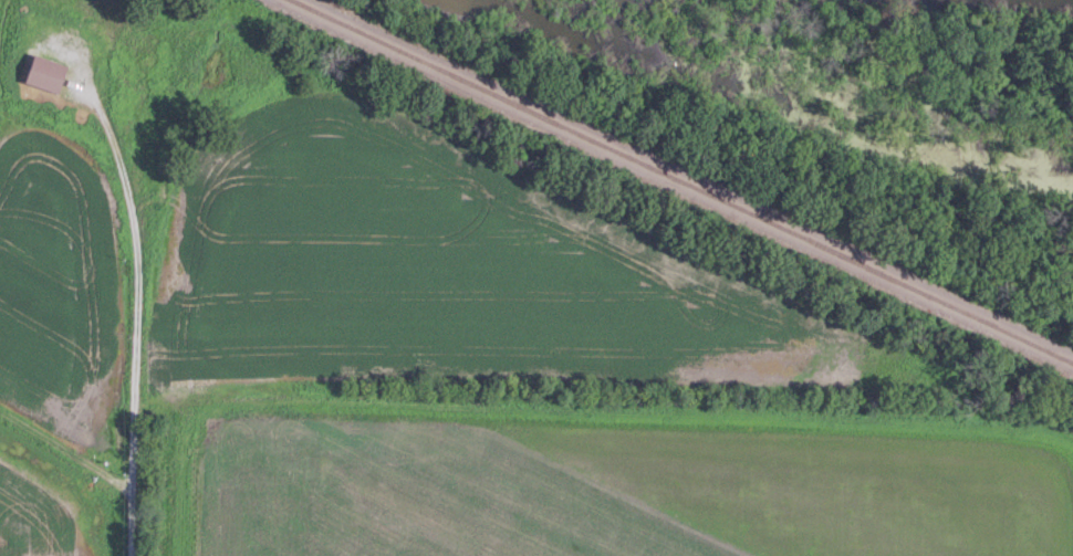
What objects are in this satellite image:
railway: (680, 181)
road: (135, 311)
road: (65, 449)

